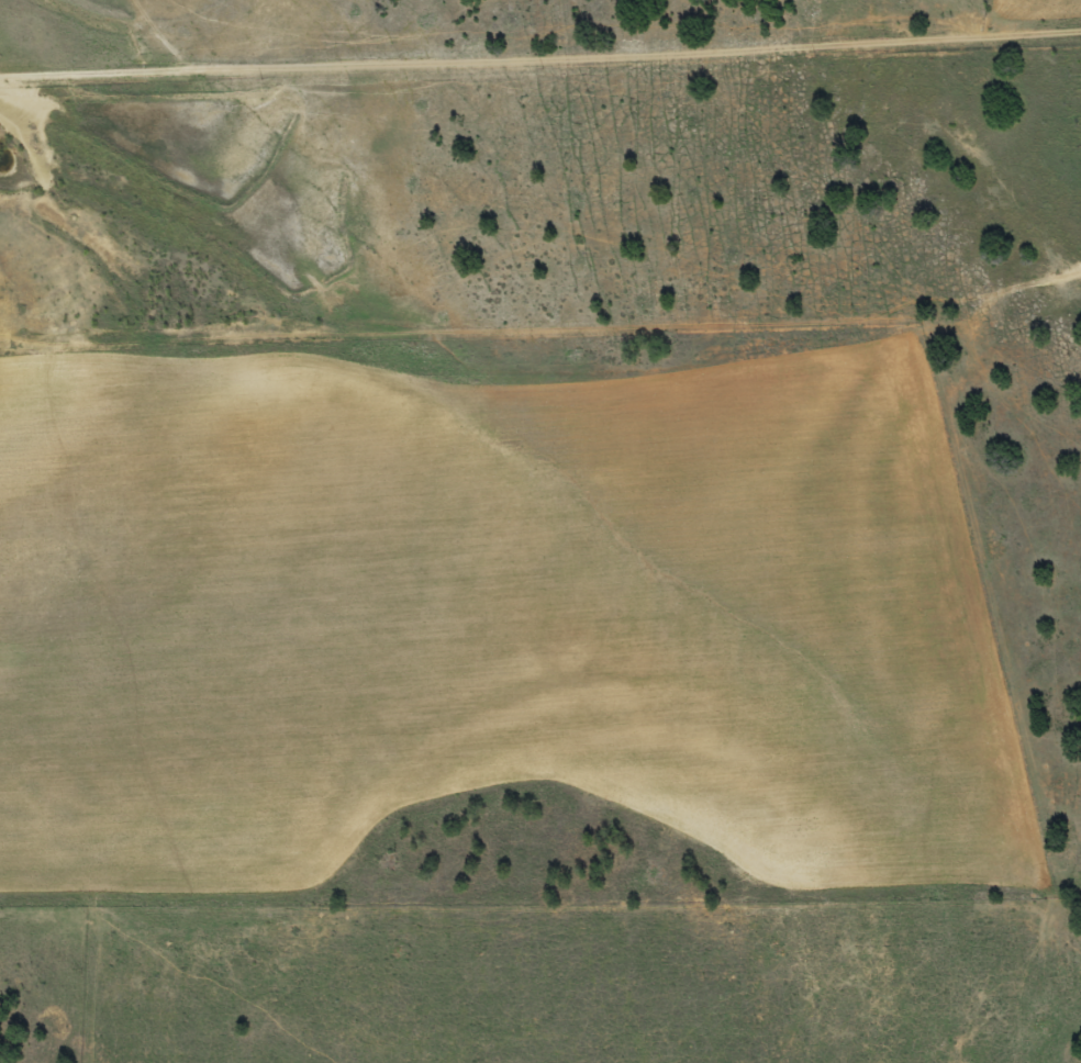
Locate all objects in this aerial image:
road: (540, 49)

